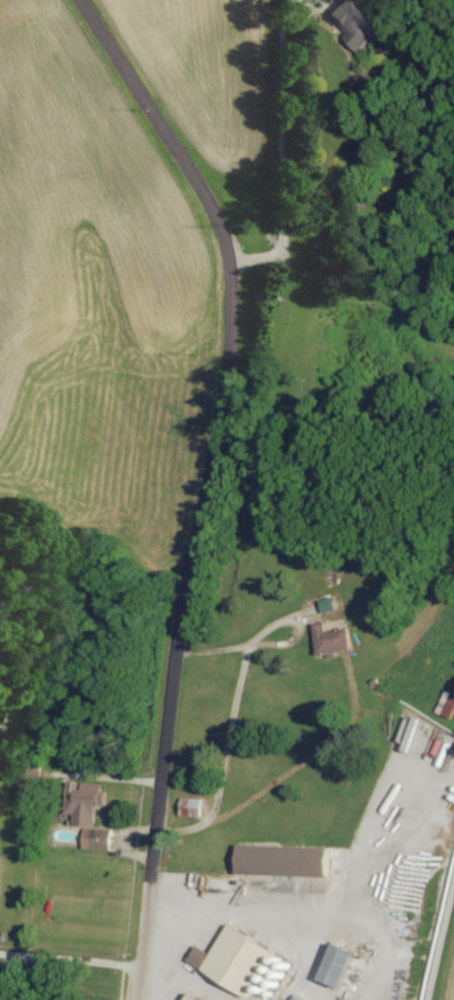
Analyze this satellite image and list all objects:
road: (318, 1)
building: (353, 22)
road: (278, 149)
road: (228, 361)
building: (327, 603)
road: (267, 607)
road: (211, 635)
building: (331, 637)
road: (284, 643)
road: (212, 672)
building: (447, 703)
building: (83, 800)
building: (191, 805)
building: (97, 837)
building: (282, 859)
road: (150, 878)
road: (68, 953)
building: (234, 959)
building: (337, 964)
road: (14, 975)
building: (192, 997)
building: (296, 997)

